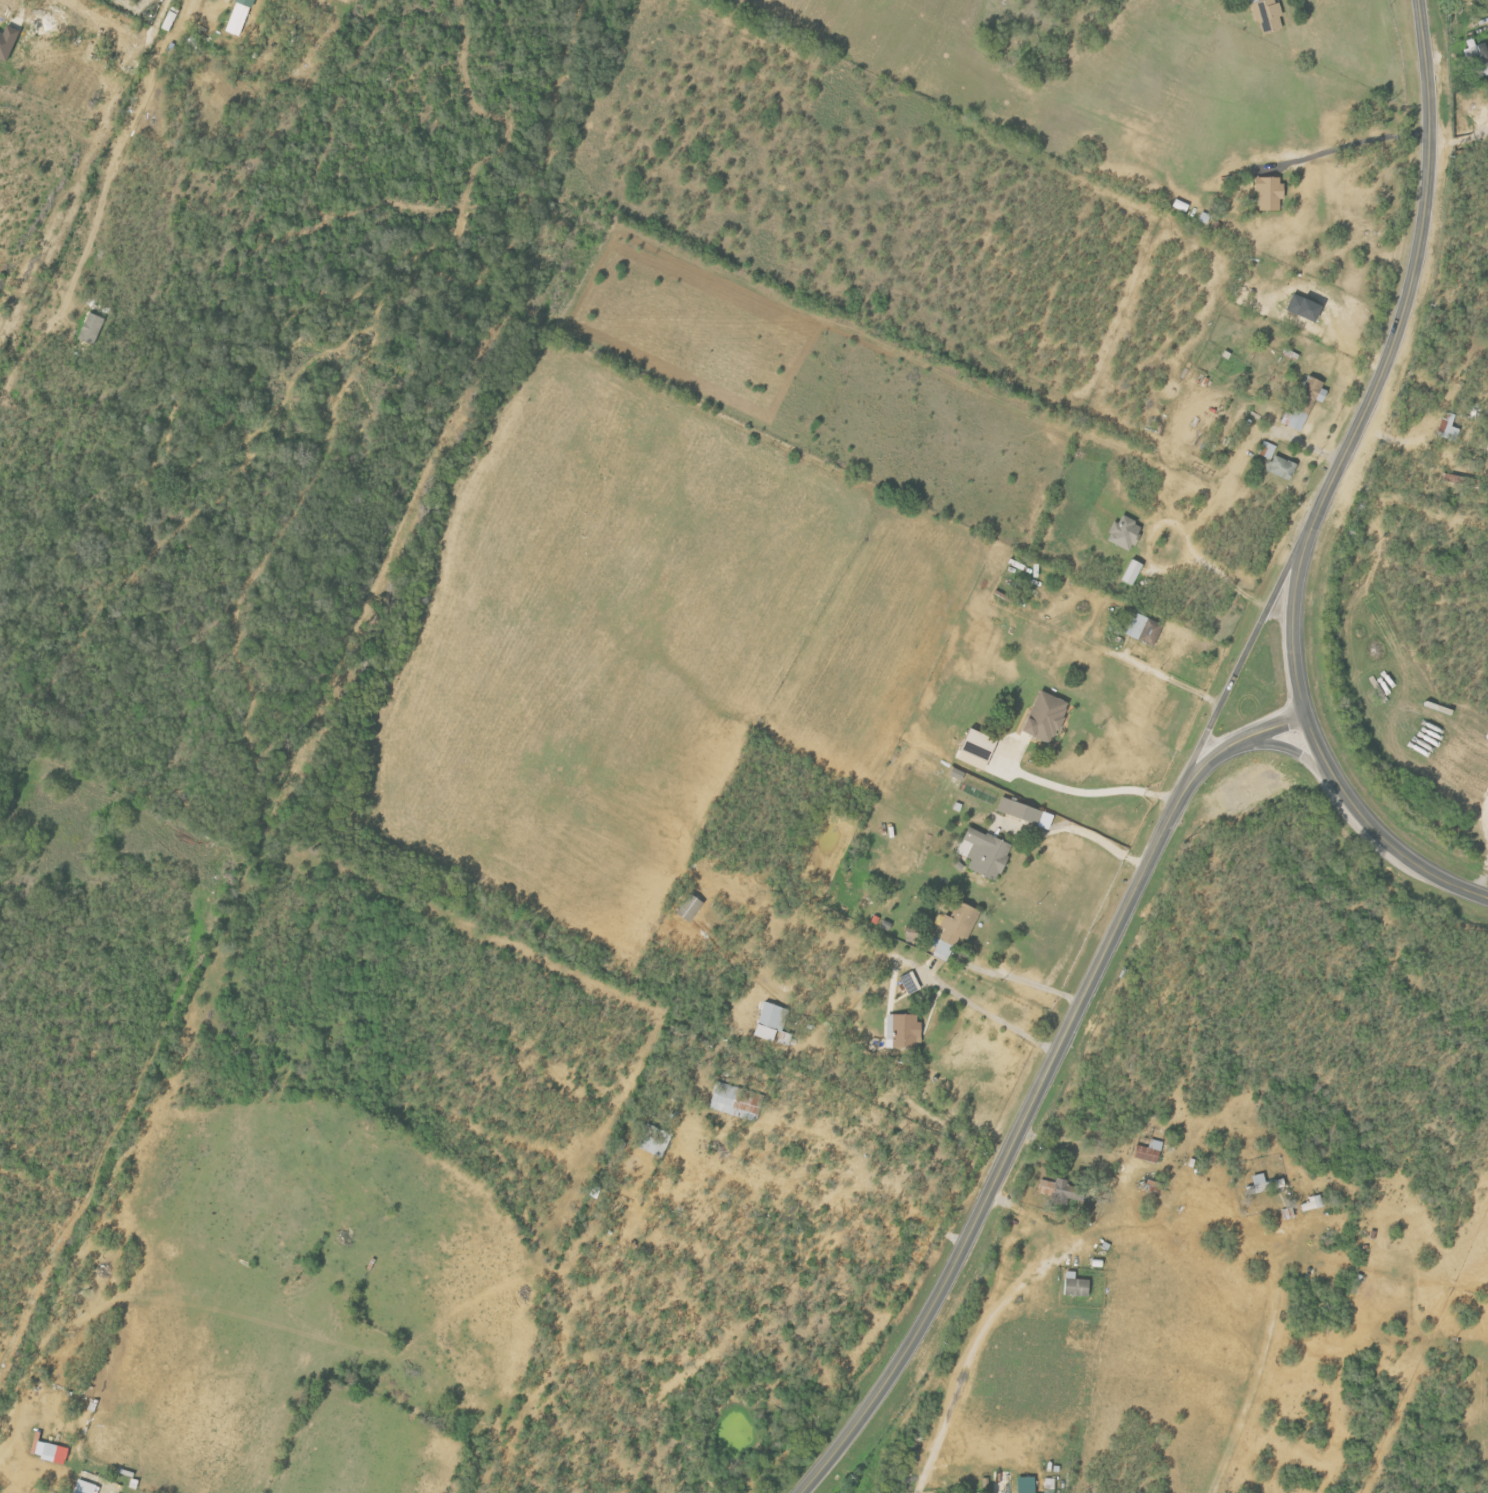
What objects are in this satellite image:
building: (1255, 1)
building: (1269, 15)
building: (238, 19)
road: (123, 39)
building: (8, 42)
road: (1353, 143)
building: (1265, 193)
building: (92, 327)
building: (1300, 403)
building: (1444, 427)
building: (1264, 450)
building: (1278, 468)
road: (1330, 486)
building: (1120, 533)
building: (1129, 572)
road: (1220, 574)
building: (1140, 629)
road: (1244, 660)
road: (1172, 682)
building: (1047, 716)
road: (1286, 748)
building: (978, 750)
road: (1097, 792)
building: (1031, 814)
road: (1090, 835)
building: (986, 852)
road: (1484, 887)
building: (691, 907)
building: (956, 928)
road: (1017, 981)
road: (997, 1019)
building: (770, 1021)
building: (904, 1030)
road: (1040, 1085)
building: (737, 1101)
building: (654, 1140)
building: (1150, 1152)
building: (1059, 1189)
building: (1313, 1203)
building: (1077, 1285)
road: (969, 1369)
road: (1257, 1374)
road: (11, 1420)
building: (56, 1453)
building: (1028, 1485)
building: (86, 1487)

